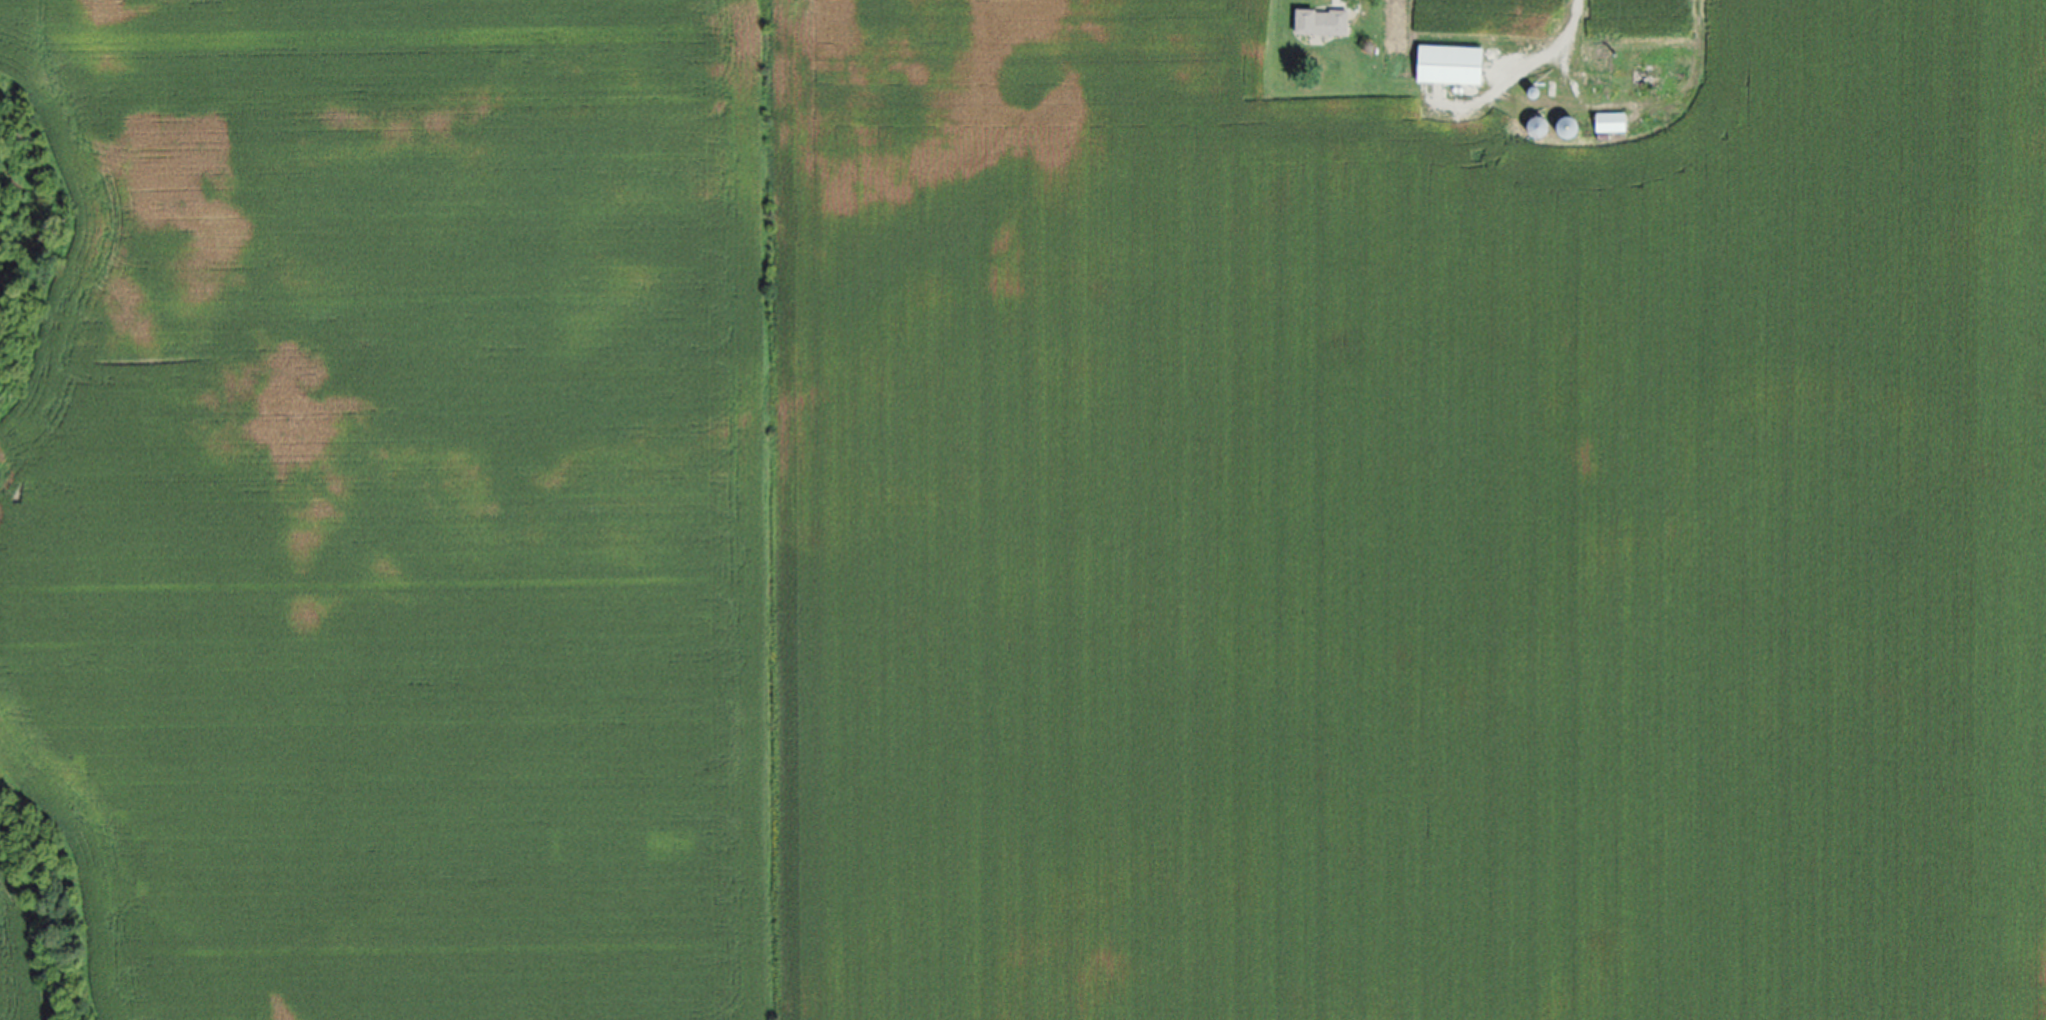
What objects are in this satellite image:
building: (1318, 26)
building: (1447, 69)
building: (1645, 79)
building: (1608, 126)

